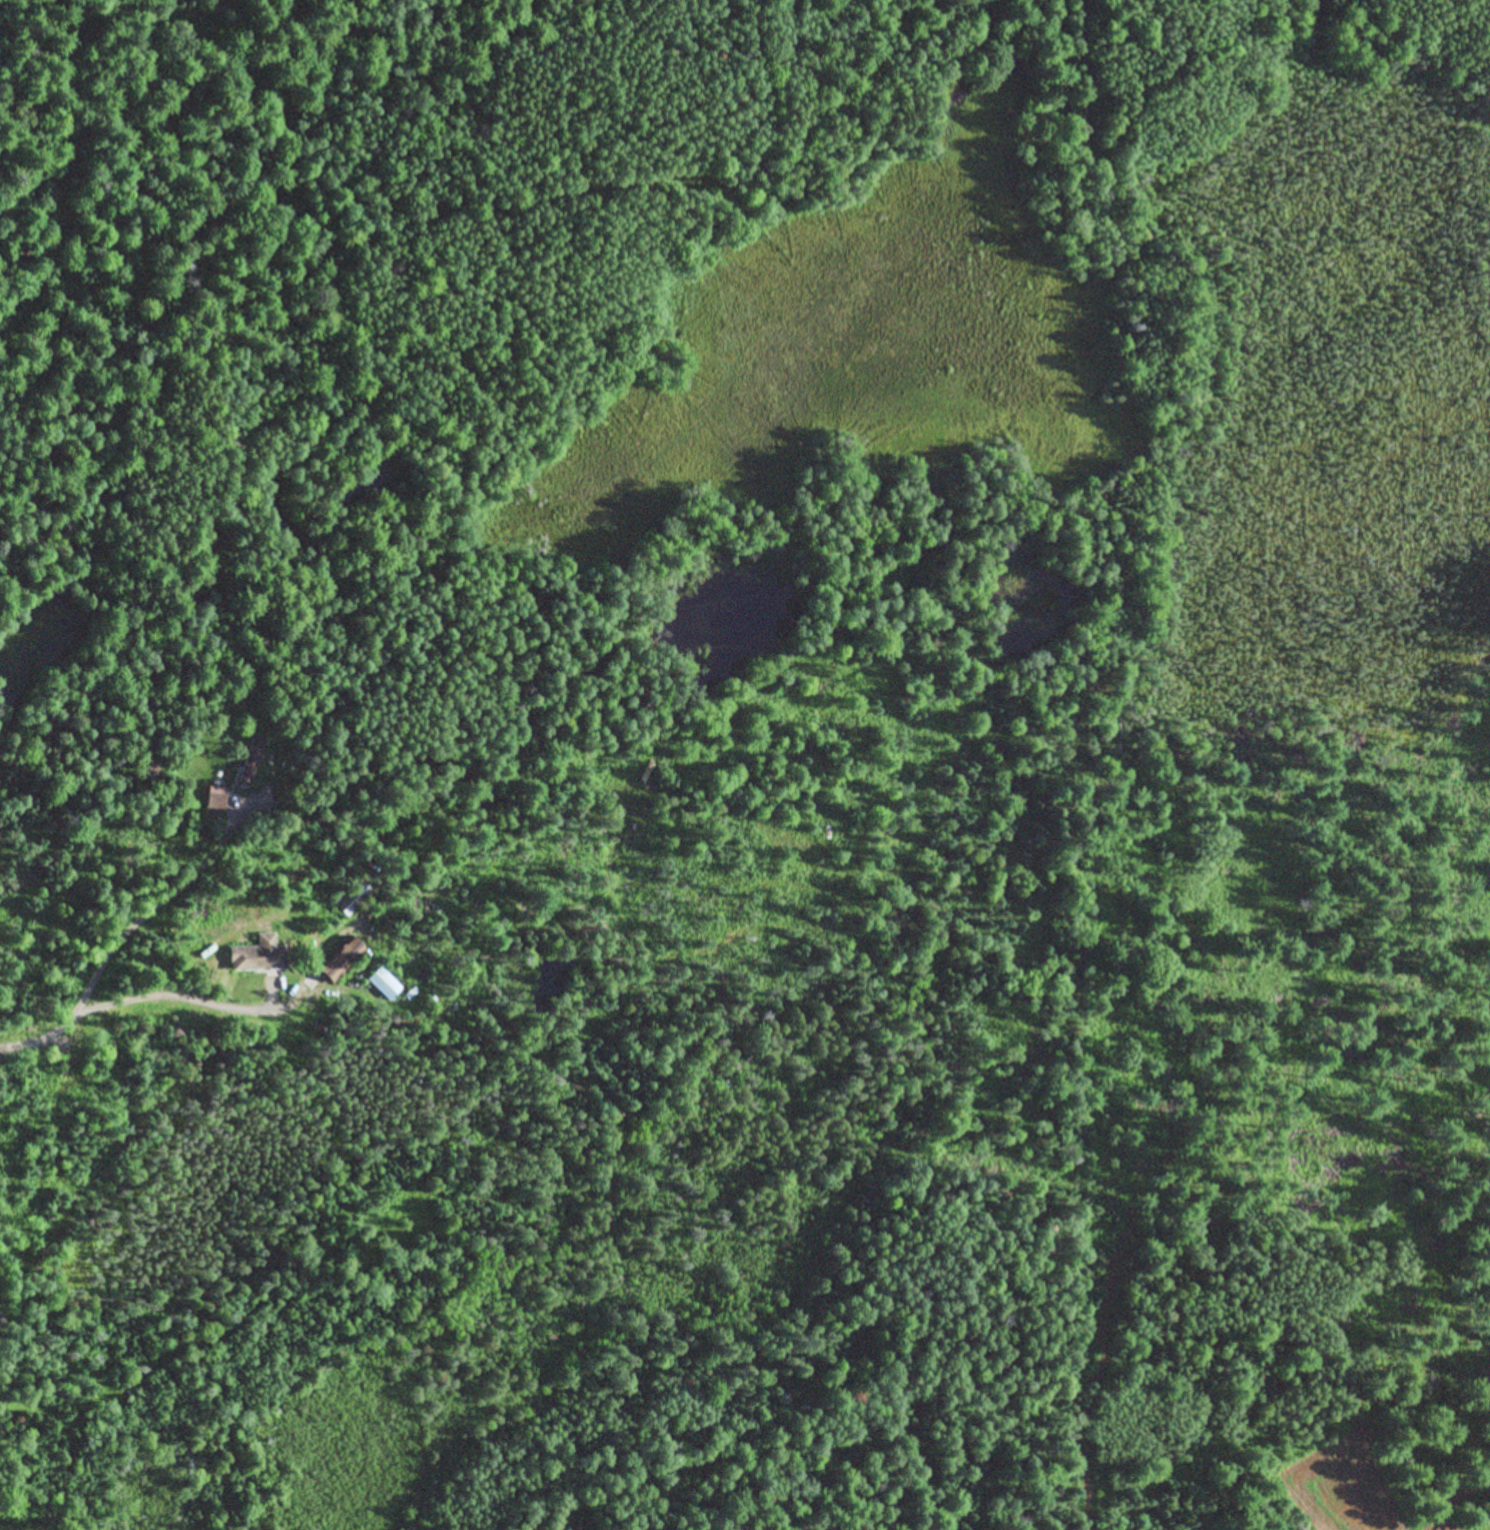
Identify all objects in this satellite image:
building: (239, 783)
building: (216, 803)
building: (353, 897)
building: (258, 955)
building: (342, 960)
road: (97, 983)
building: (384, 985)

